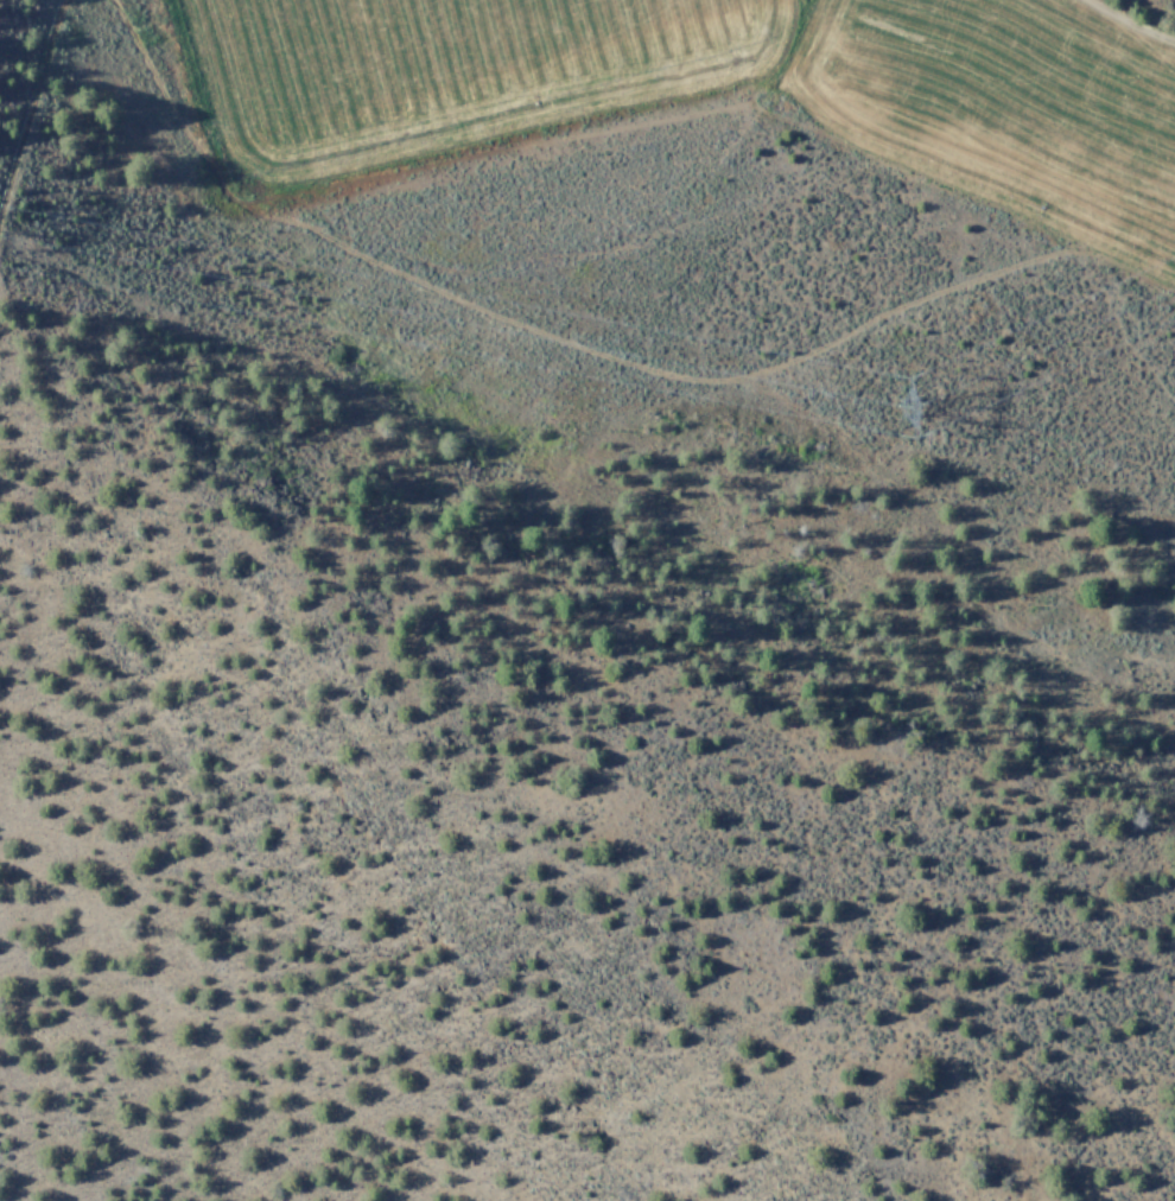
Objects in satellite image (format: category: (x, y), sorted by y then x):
road: (1126, 21)
power tower: (895, 392)

